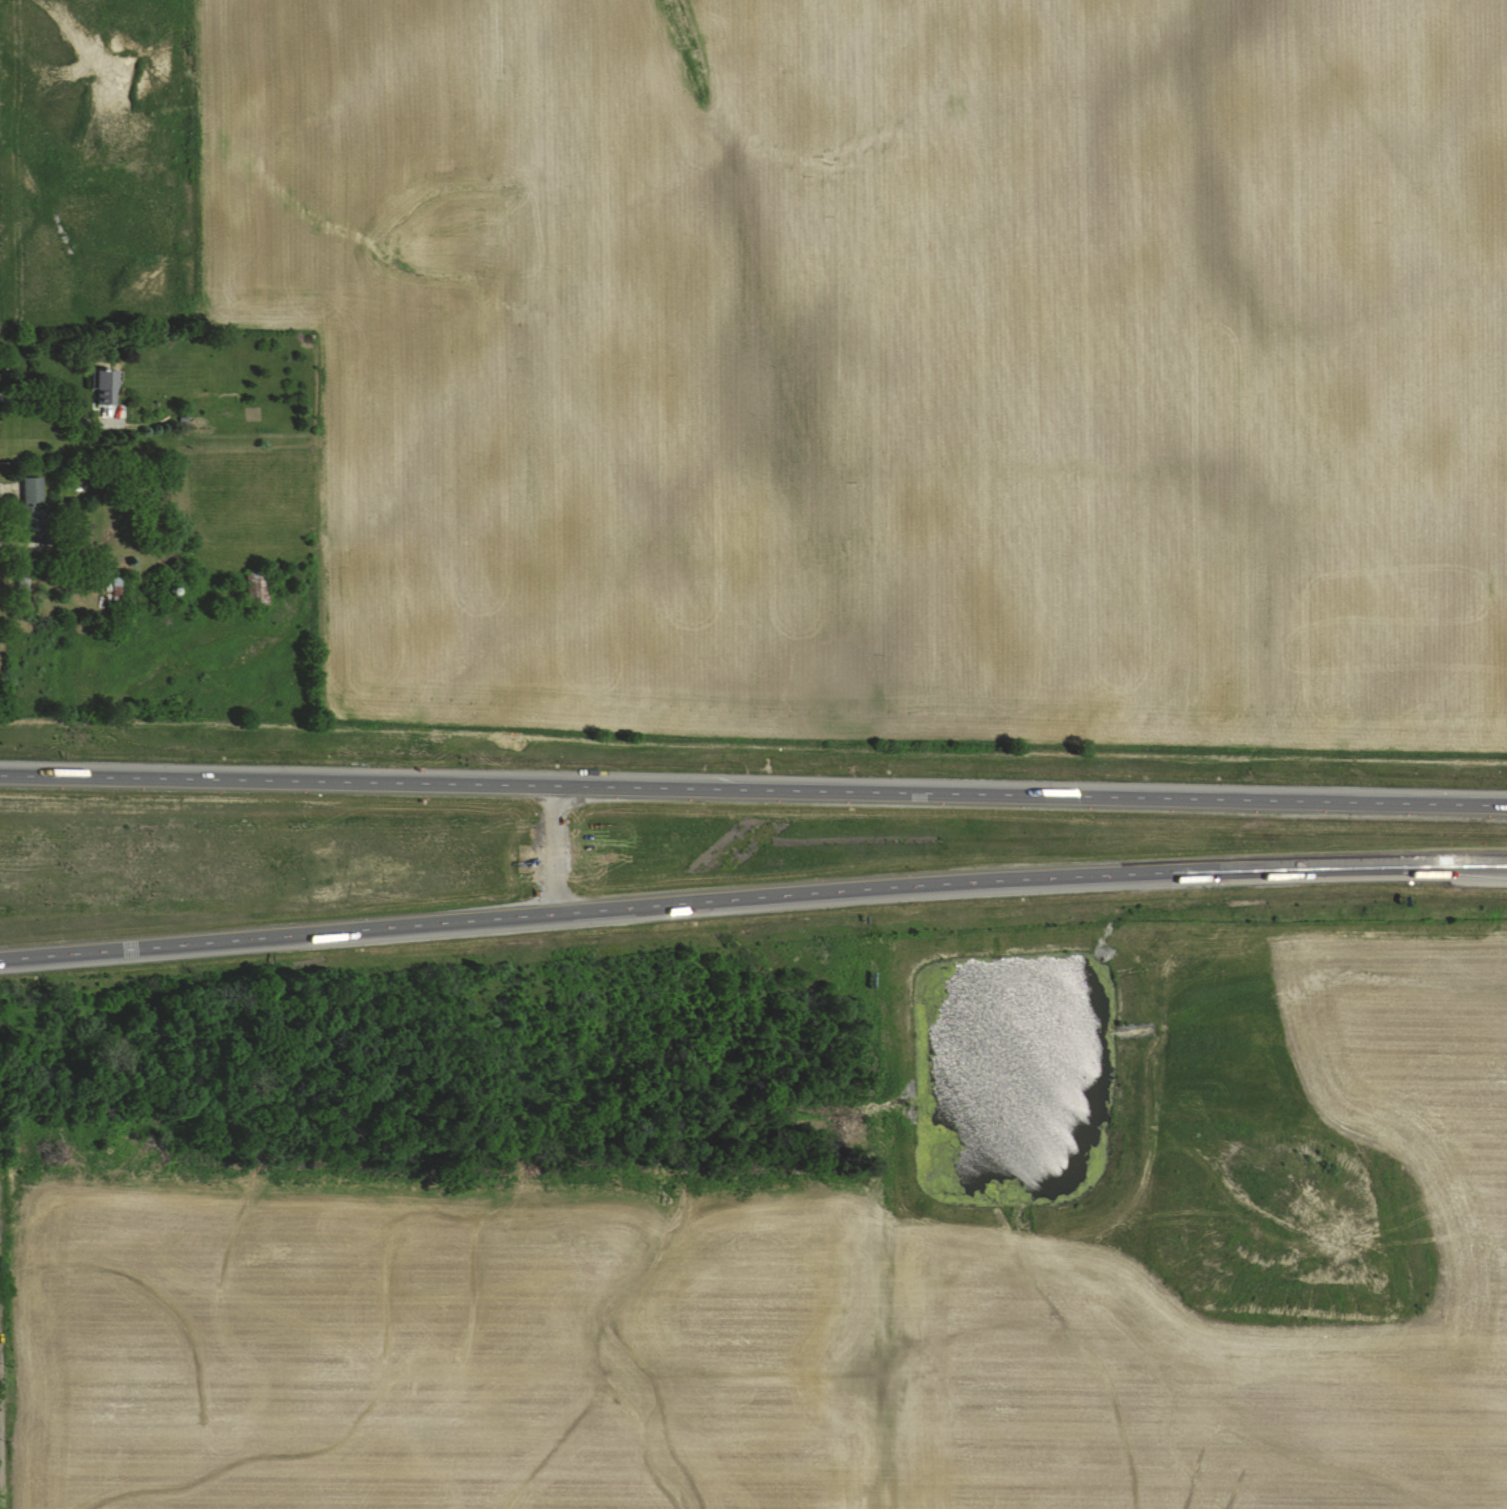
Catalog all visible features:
road: (753, 790)
road: (558, 848)
road: (752, 896)

